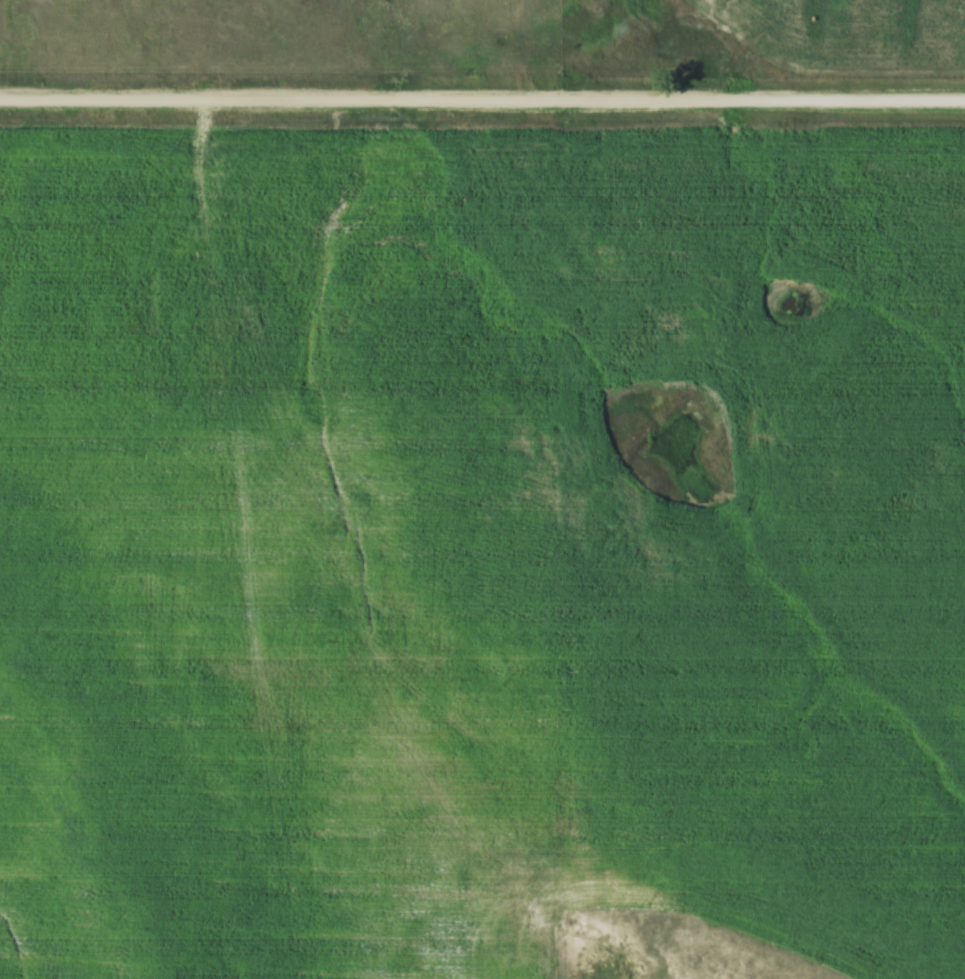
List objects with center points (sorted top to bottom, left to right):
road: (482, 99)

